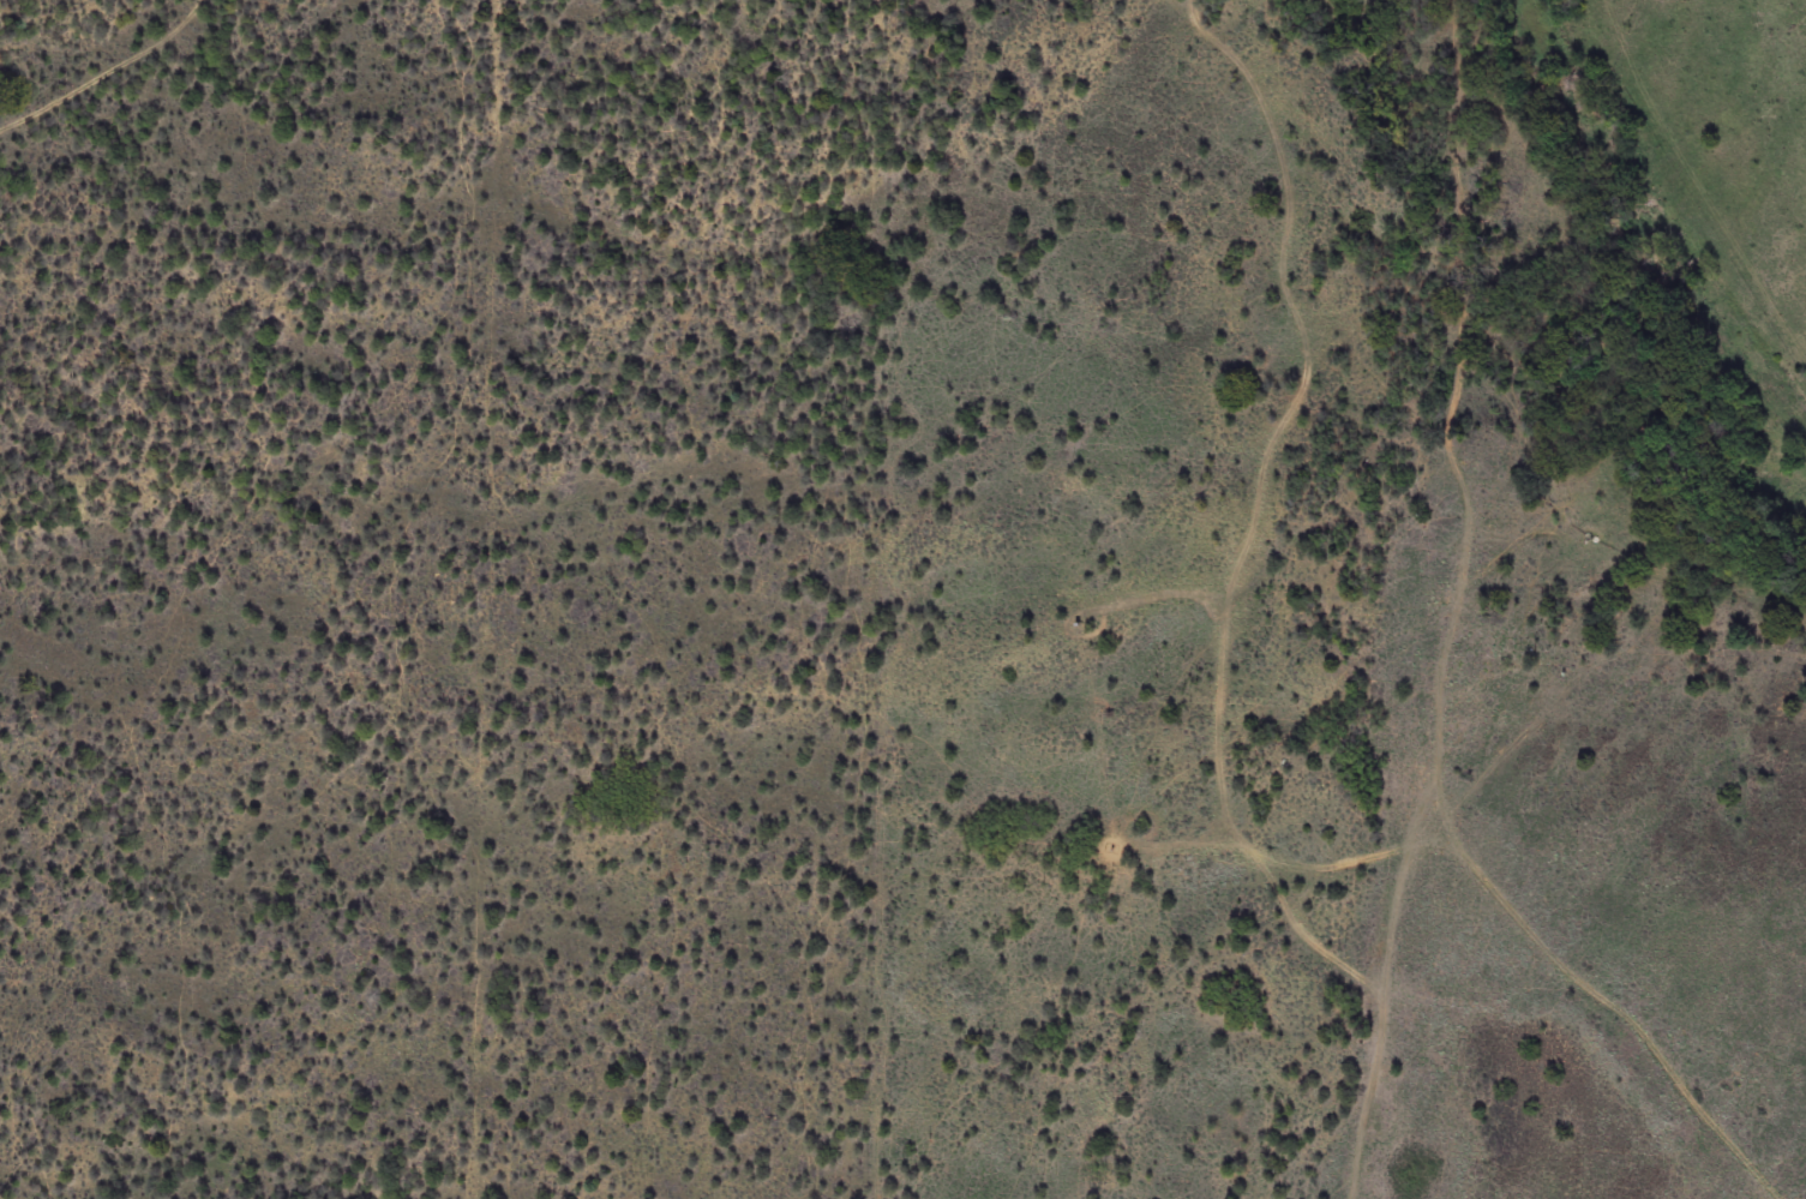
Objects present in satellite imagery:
road: (120, 90)

